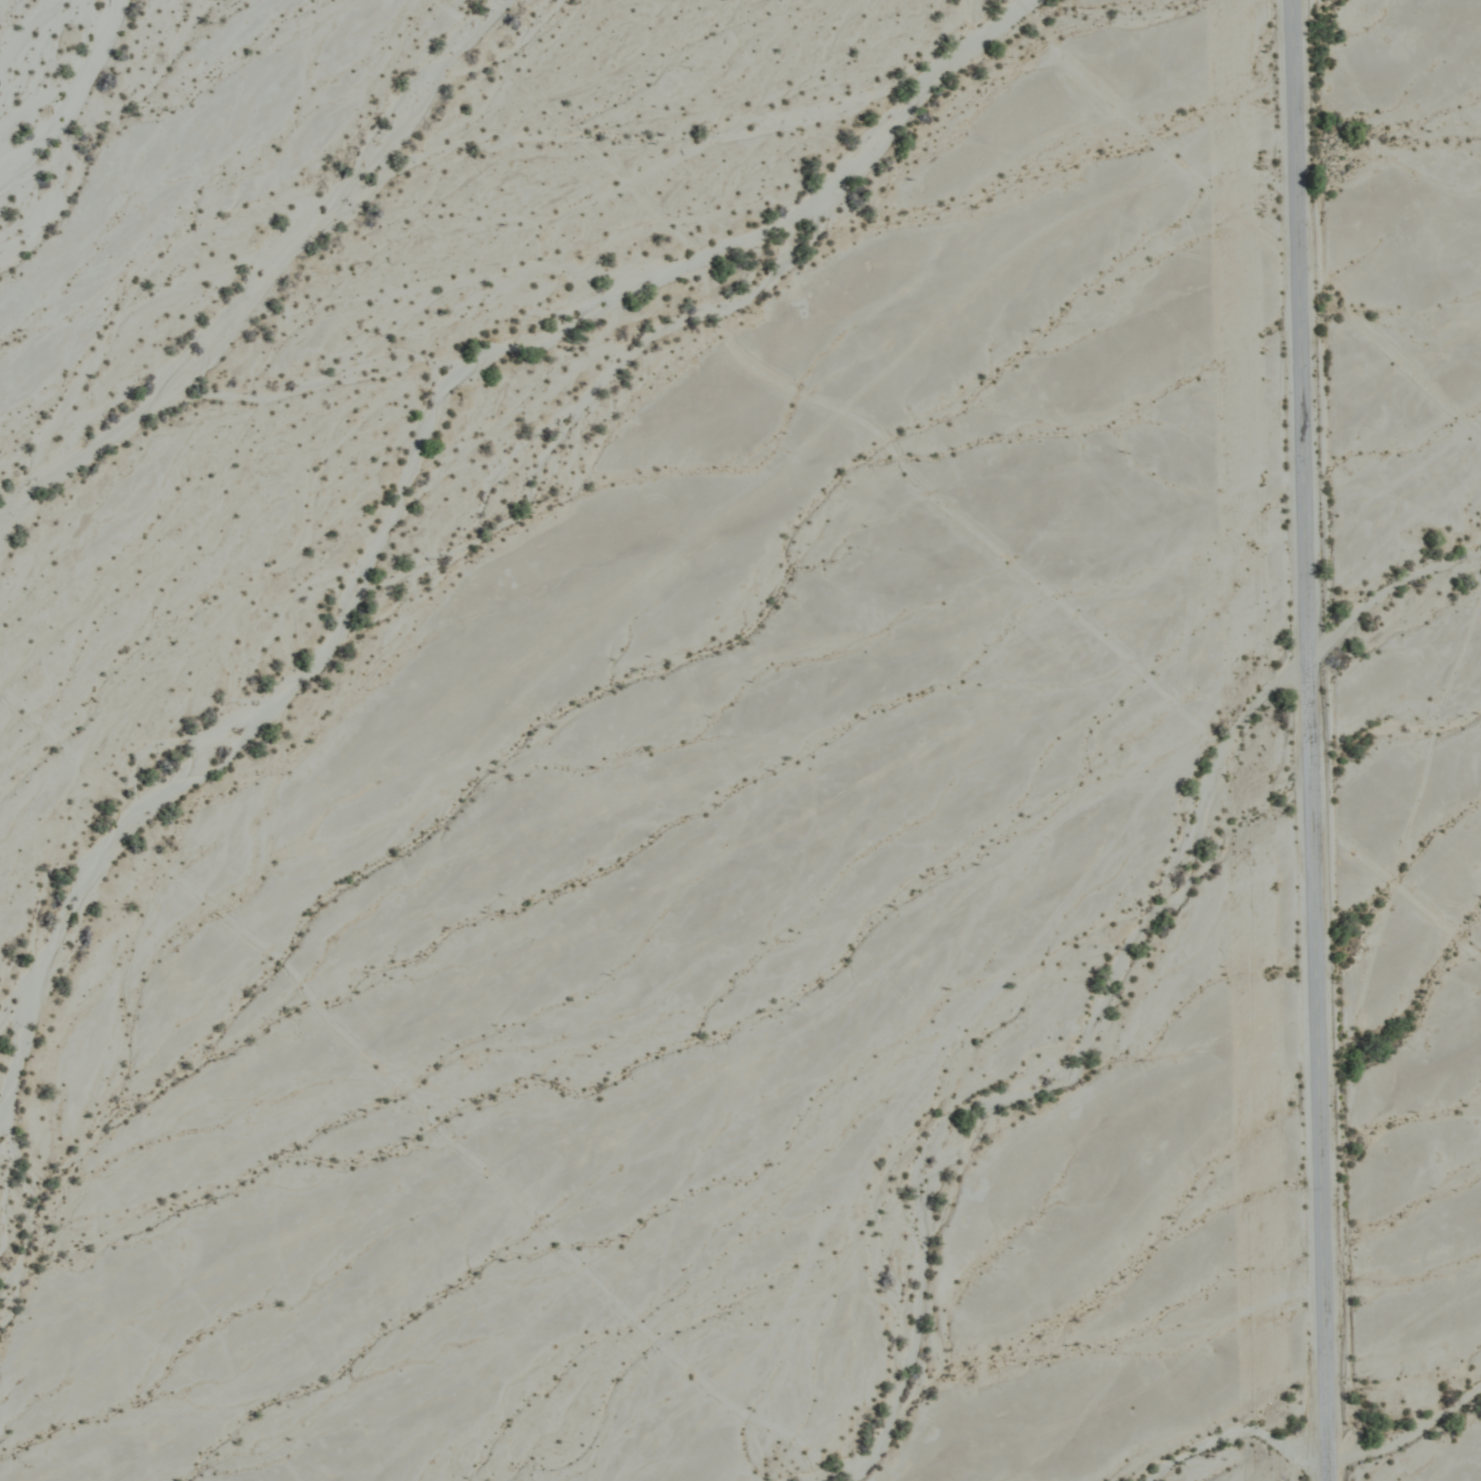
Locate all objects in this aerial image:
road: (1311, 740)

